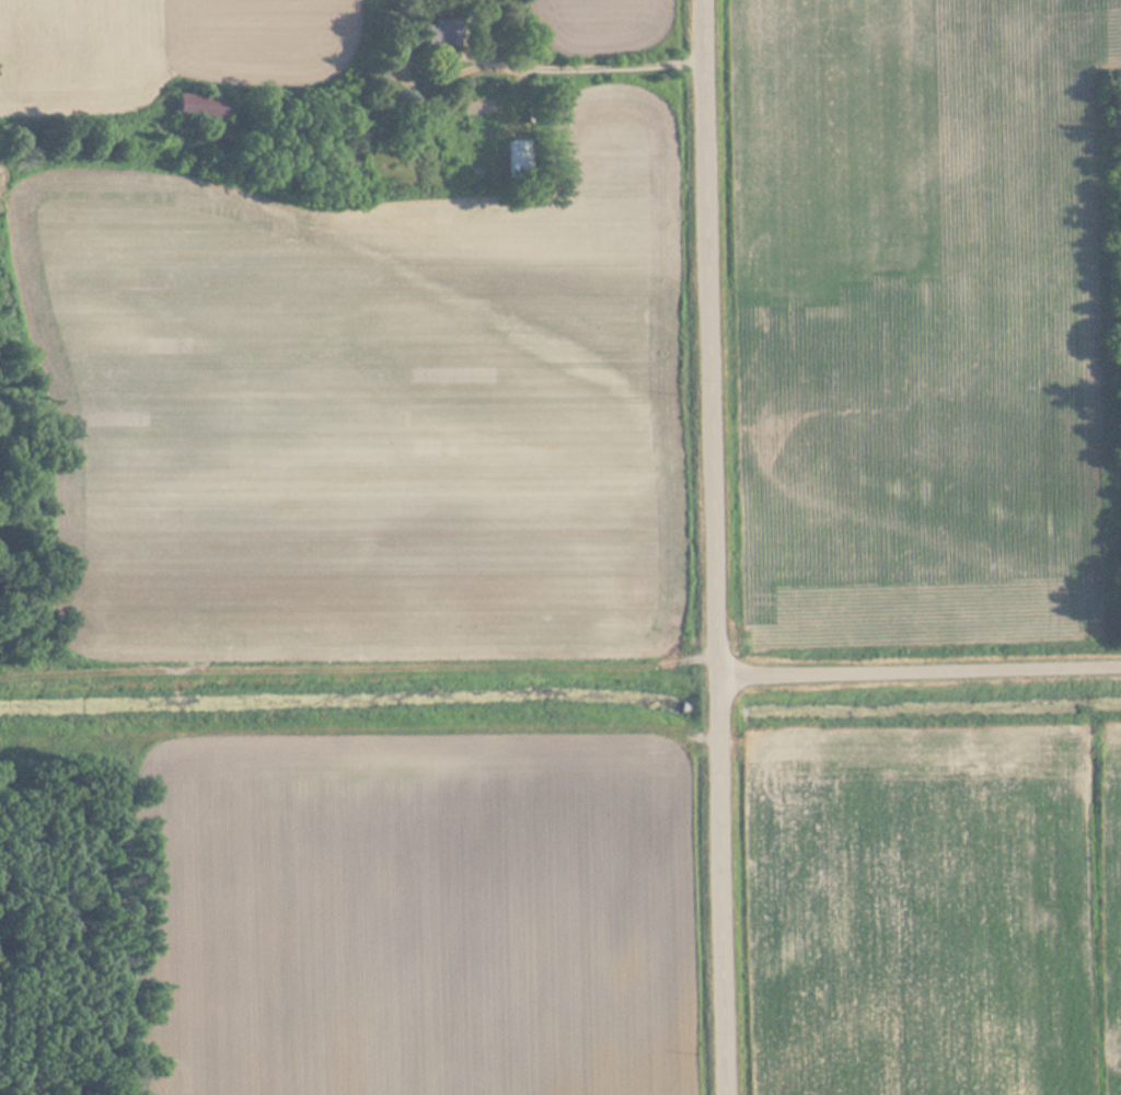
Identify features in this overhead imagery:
building: (443, 33)
building: (201, 107)
building: (520, 159)
road: (713, 547)
road: (357, 667)
road: (920, 671)

